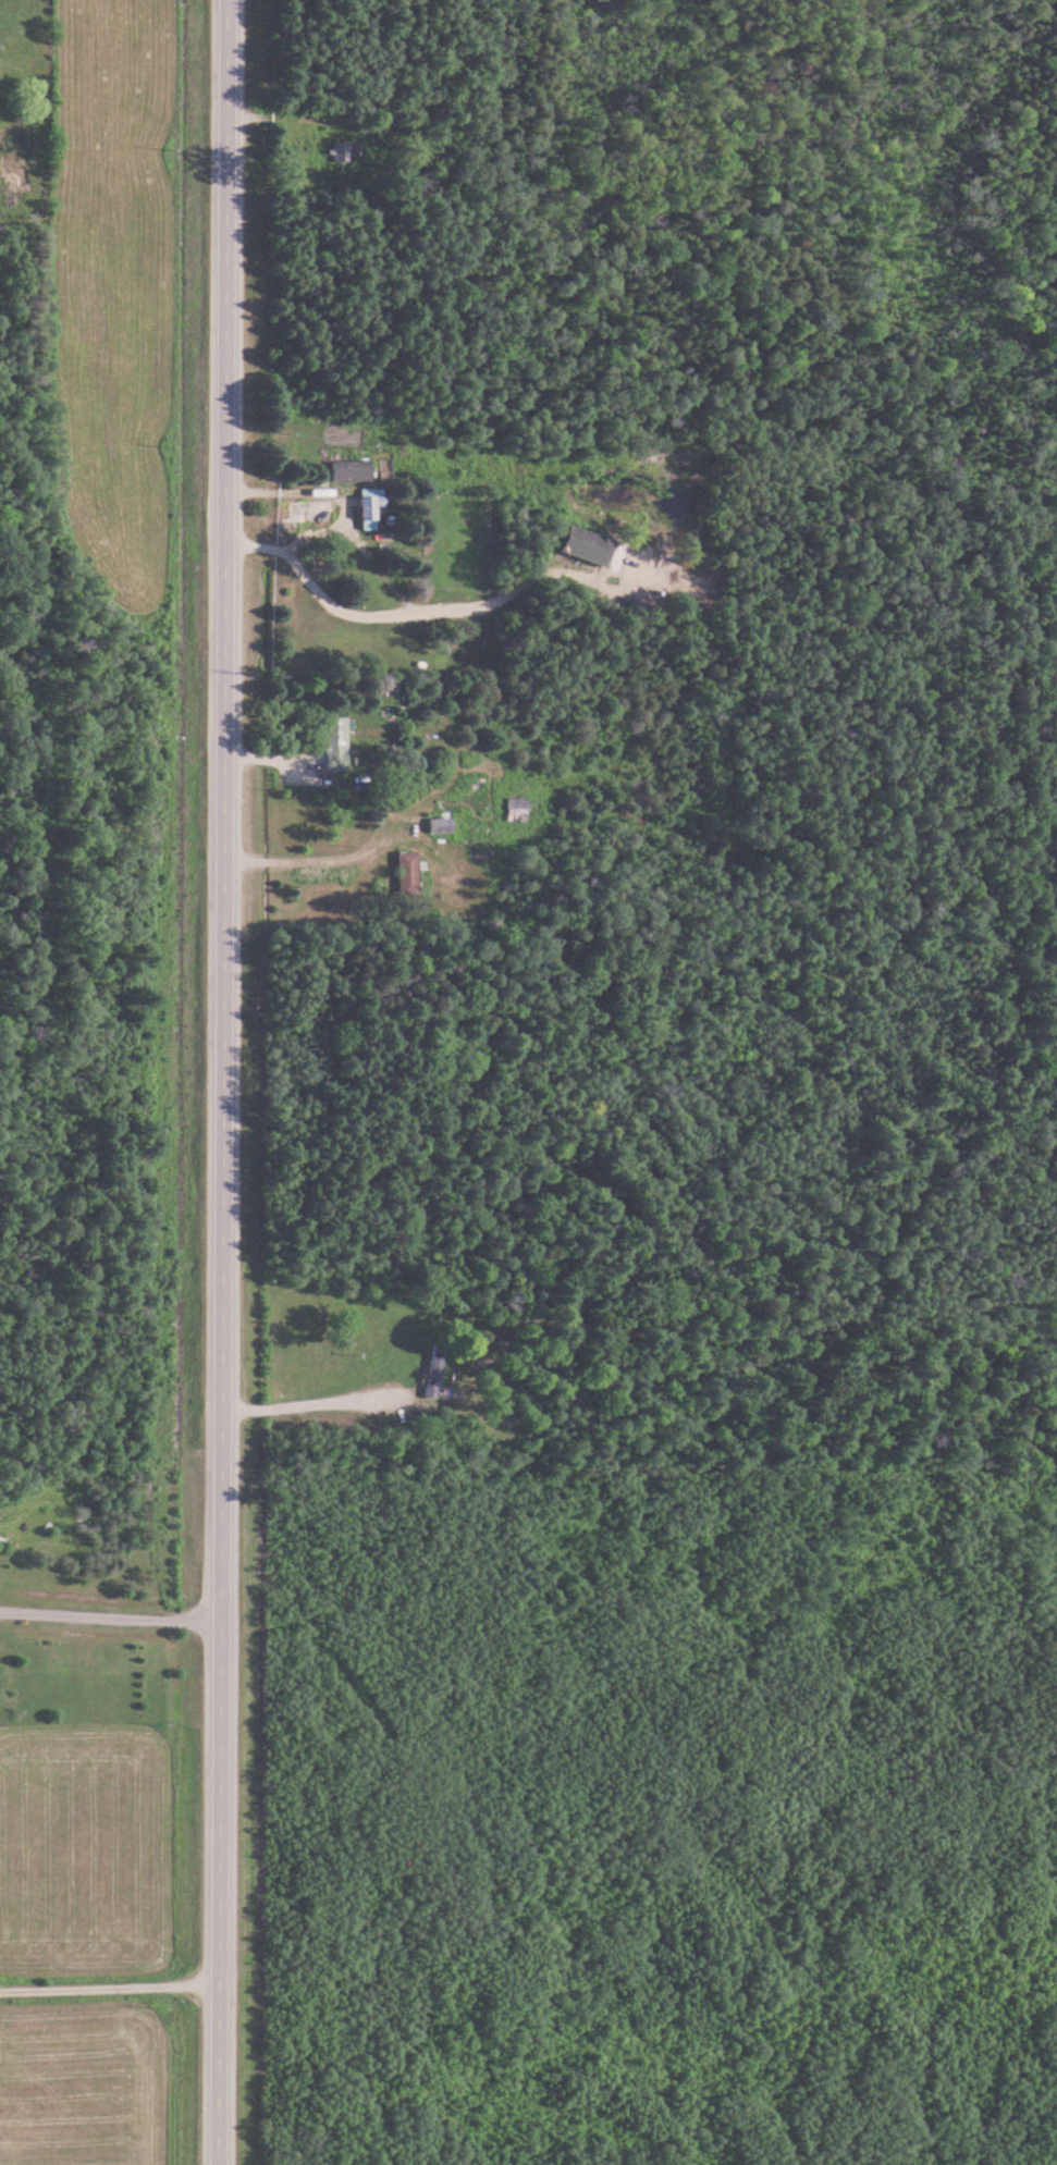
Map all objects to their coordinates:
building: (346, 152)
building: (352, 470)
building: (371, 504)
building: (587, 545)
building: (337, 745)
building: (520, 810)
building: (442, 826)
building: (409, 874)
road: (225, 1082)
building: (437, 1374)
road: (112, 1542)
road: (110, 1992)

